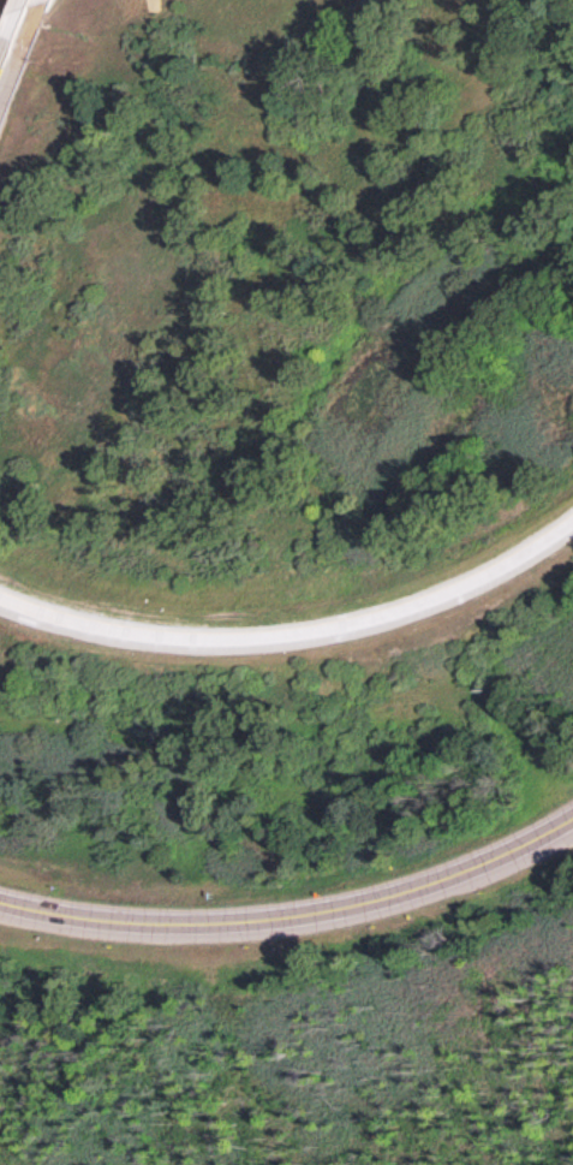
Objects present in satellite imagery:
road: (14, 36)
road: (0, 73)
road: (297, 626)
road: (294, 911)

